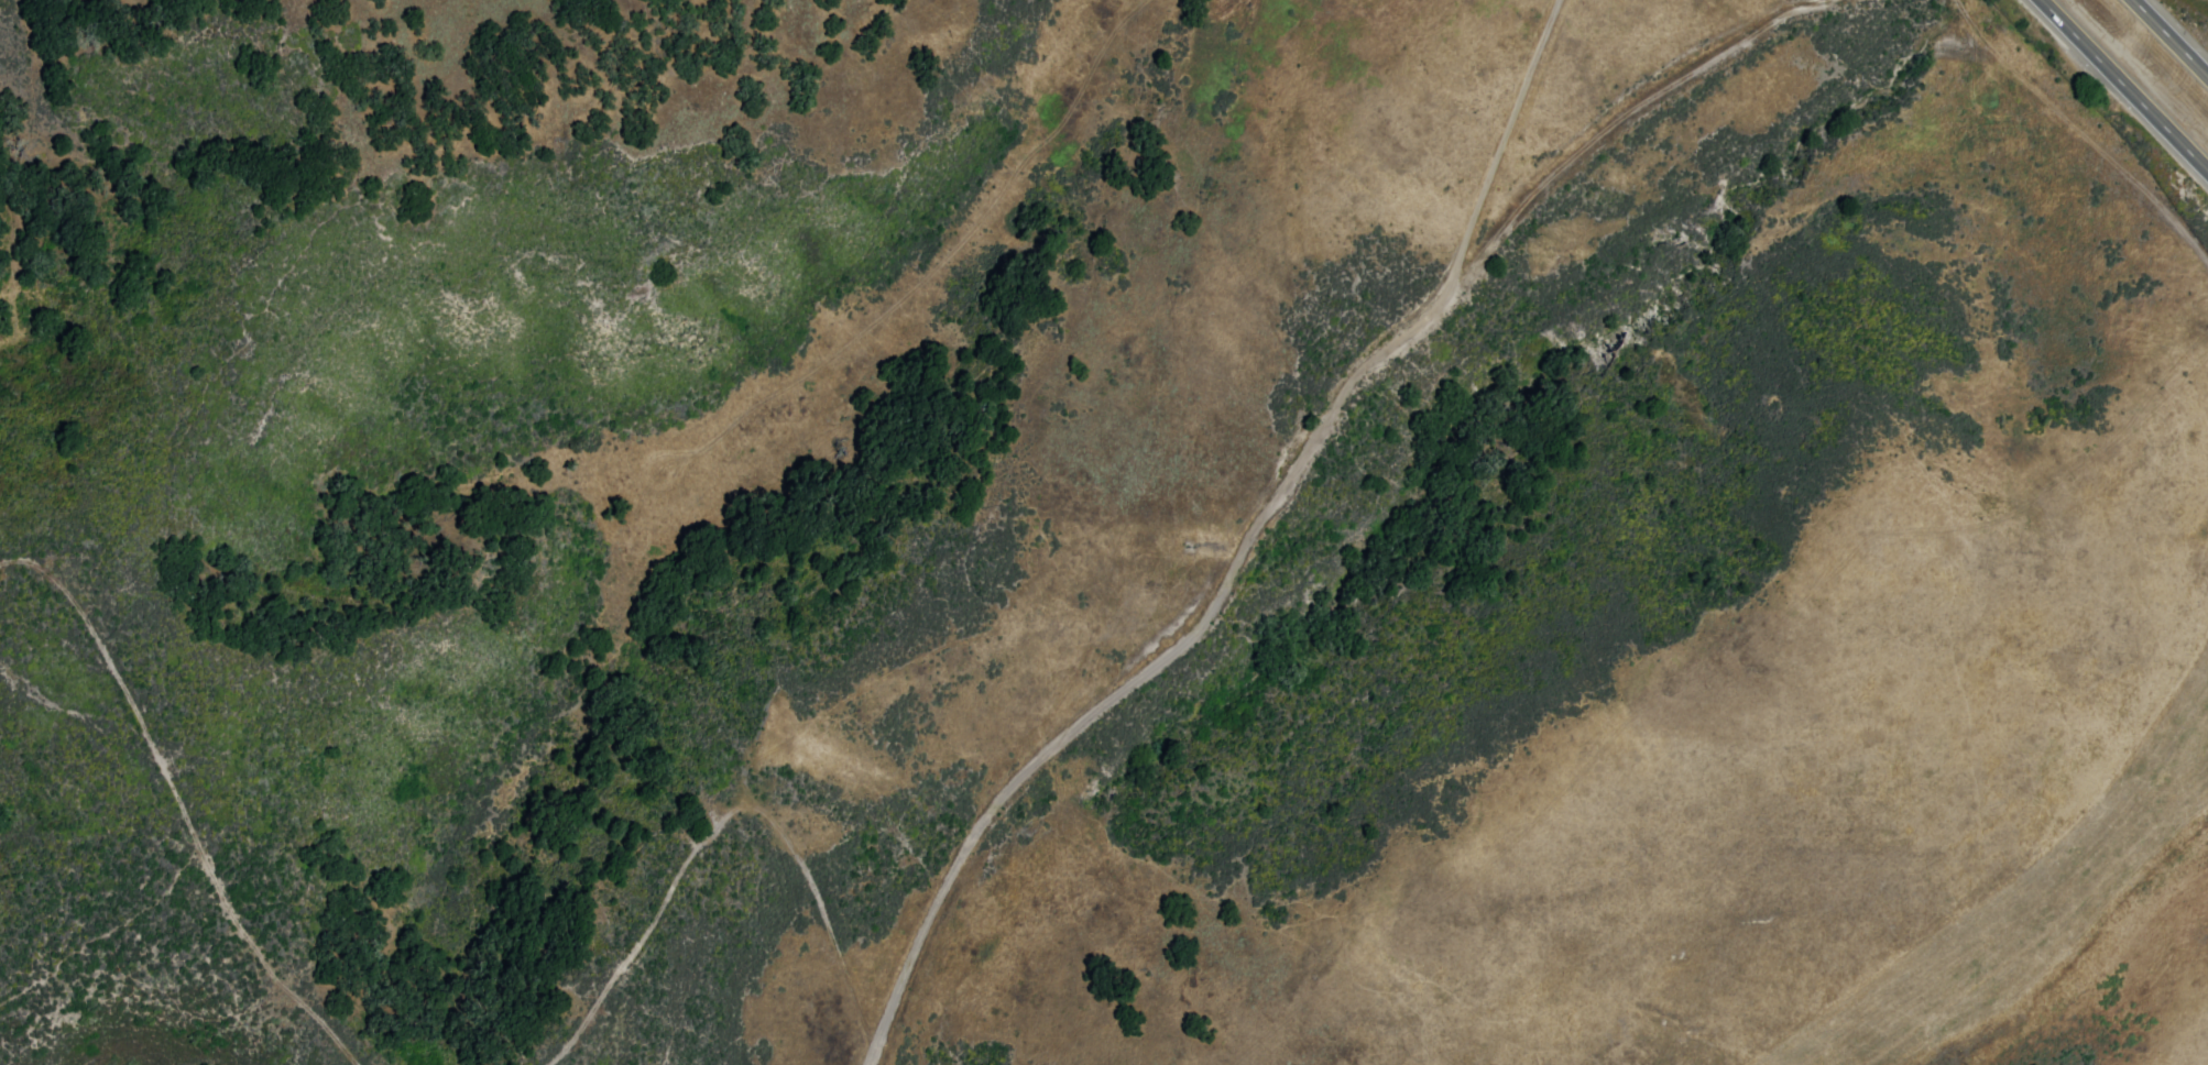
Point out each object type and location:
road: (2146, 12)
road: (2171, 37)
road: (2124, 85)
road: (1287, 476)
road: (174, 790)
road: (732, 813)

